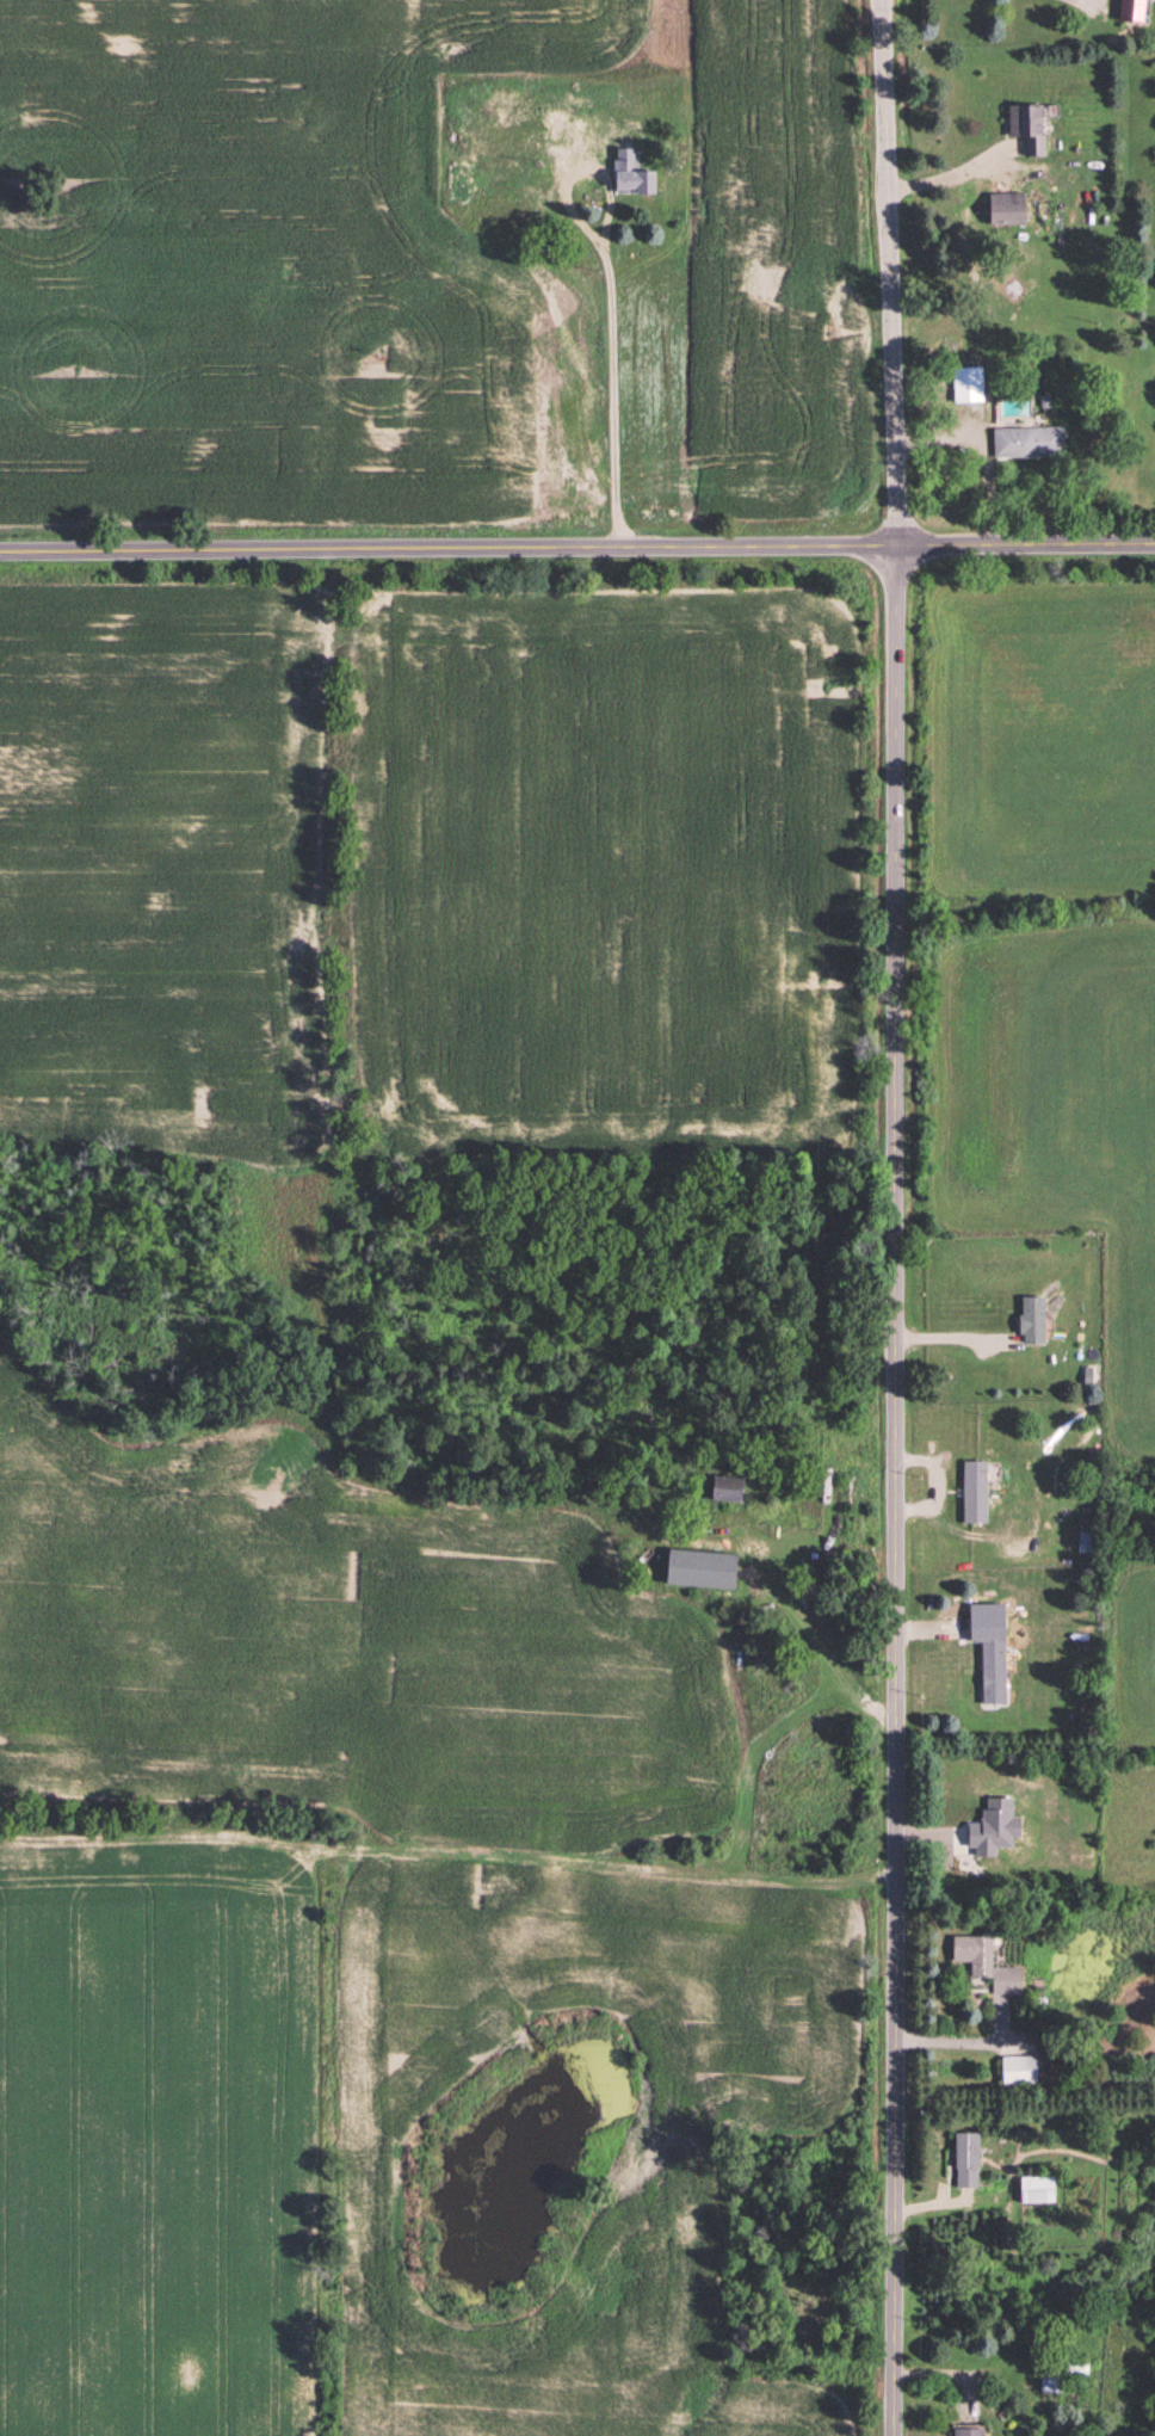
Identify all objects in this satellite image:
road: (1079, 2)
building: (1135, 12)
building: (1030, 129)
building: (634, 165)
road: (956, 175)
building: (462, 184)
building: (1008, 210)
crop: (264, 259)
crop: (792, 270)
road: (612, 350)
building: (969, 386)
building: (1030, 443)
road: (988, 451)
road: (577, 555)
crop: (165, 876)
crop: (613, 877)
road: (903, 1217)
building: (1034, 1320)
building: (731, 1490)
building: (976, 1494)
building: (704, 1569)
crop: (341, 1641)
building: (995, 1673)
building: (989, 1966)
road: (975, 2040)
building: (1021, 2072)
crop: (385, 2142)
crop: (154, 2144)
building: (968, 2161)
building: (1038, 2190)
building: (1066, 2376)
building: (970, 2431)

